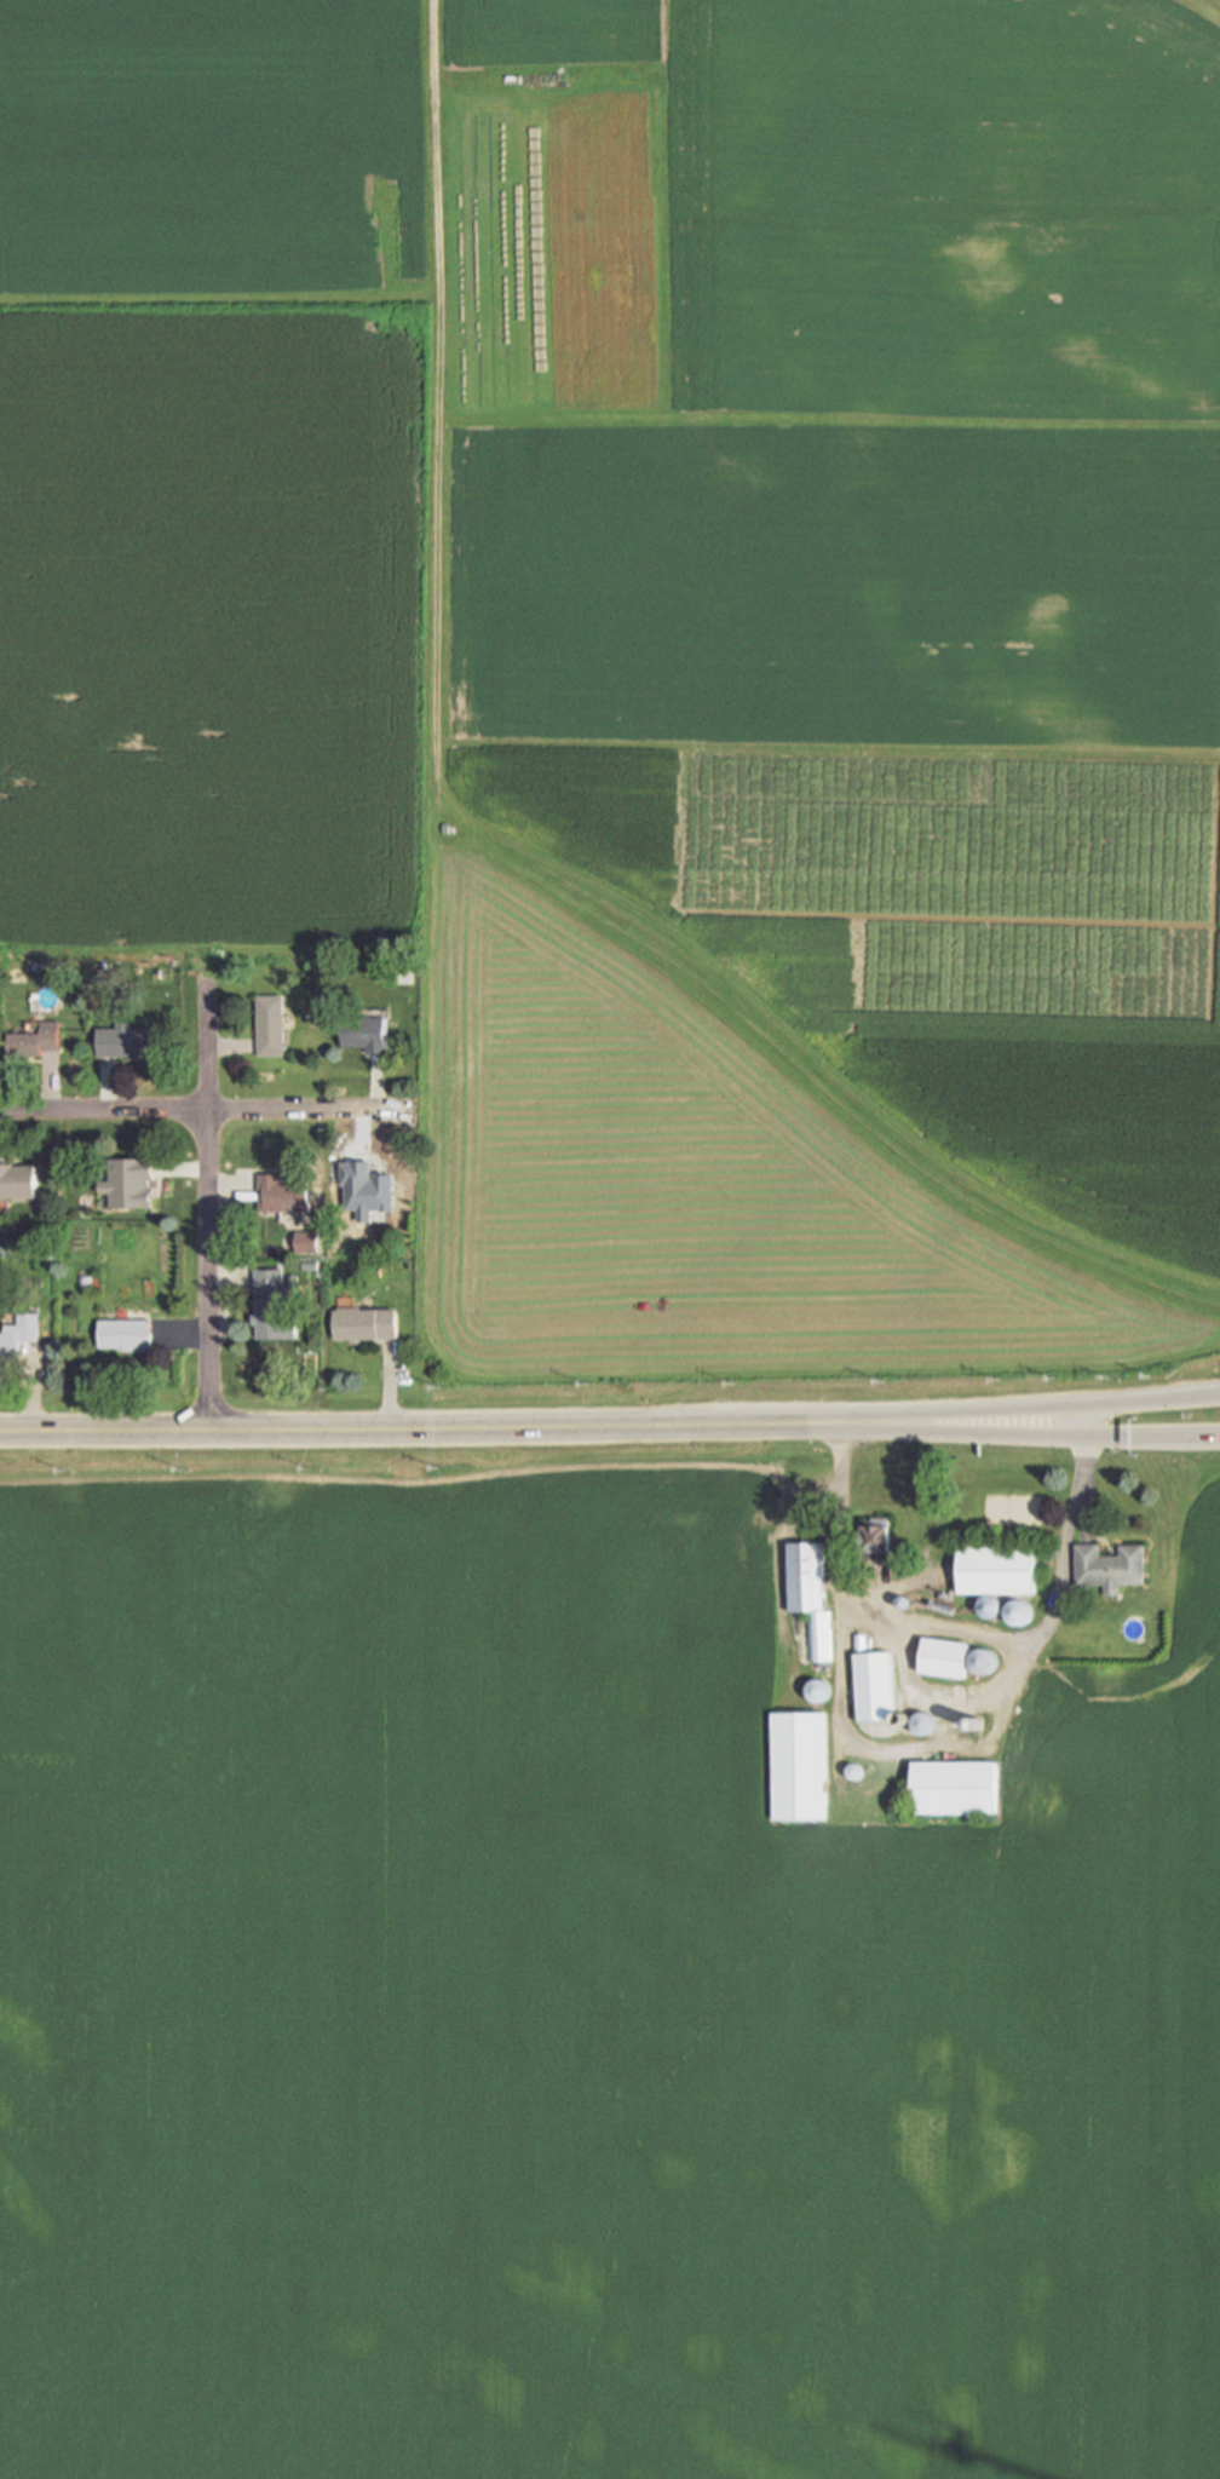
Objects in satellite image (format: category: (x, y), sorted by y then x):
crop: (214, 621)
crop: (755, 639)
building: (29, 964)
building: (61, 965)
building: (391, 971)
building: (272, 1026)
building: (366, 1035)
building: (35, 1042)
building: (128, 1042)
road: (203, 1110)
building: (17, 1181)
building: (131, 1184)
building: (287, 1195)
road: (208, 1206)
building: (310, 1243)
building: (276, 1306)
building: (367, 1325)
building: (19, 1335)
building: (127, 1335)
road: (900, 1415)
road: (289, 1430)
road: (900, 1431)
building: (877, 1540)
building: (1111, 1568)
building: (999, 1571)
building: (807, 1577)
building: (1020, 1617)
road: (953, 1630)
building: (822, 1637)
building: (862, 1643)
building: (945, 1660)
building: (986, 1663)
building: (876, 1687)
building: (818, 1691)
building: (925, 1725)
building: (800, 1766)
building: (956, 1788)
crop: (571, 2000)

